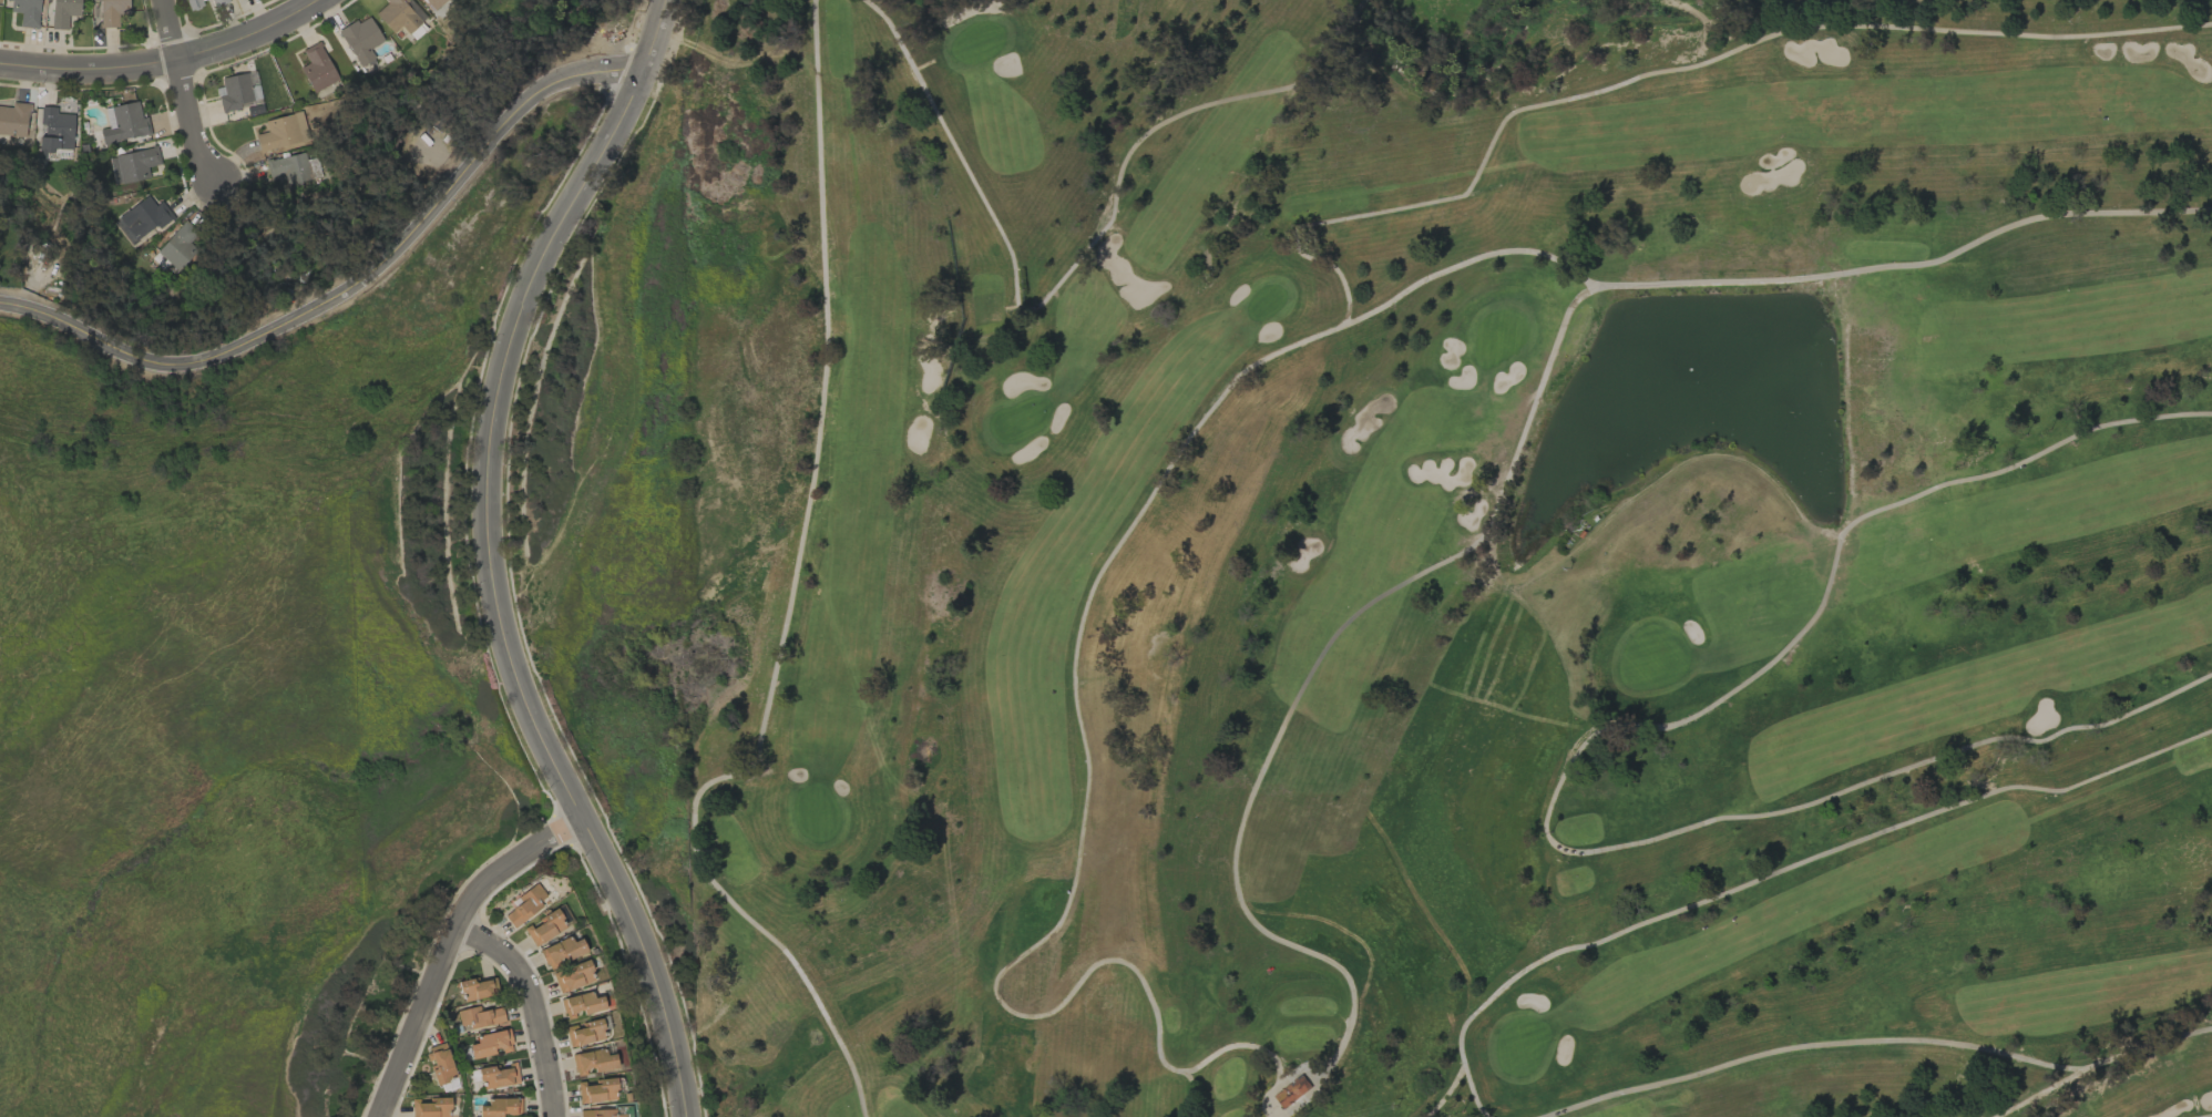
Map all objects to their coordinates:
building: (218, 2)
building: (194, 3)
building: (434, 3)
building: (25, 11)
building: (111, 11)
building: (63, 12)
building: (400, 17)
building: (360, 39)
road: (160, 60)
building: (316, 68)
road: (183, 90)
building: (233, 92)
building: (13, 119)
building: (123, 122)
building: (54, 131)
building: (281, 131)
building: (132, 164)
building: (290, 168)
building: (143, 217)
building: (177, 247)
road: (348, 288)
park: (1403, 555)
road: (485, 557)
building: (525, 903)
building: (544, 926)
road: (447, 943)
building: (561, 951)
building: (571, 976)
building: (477, 988)
road: (533, 1002)
building: (581, 1004)
building: (478, 1016)
building: (583, 1032)
building: (490, 1043)
building: (592, 1062)
building: (440, 1064)
building: (496, 1076)
building: (596, 1090)
building: (1293, 1092)
building: (430, 1107)
building: (500, 1107)
building: (598, 1113)

